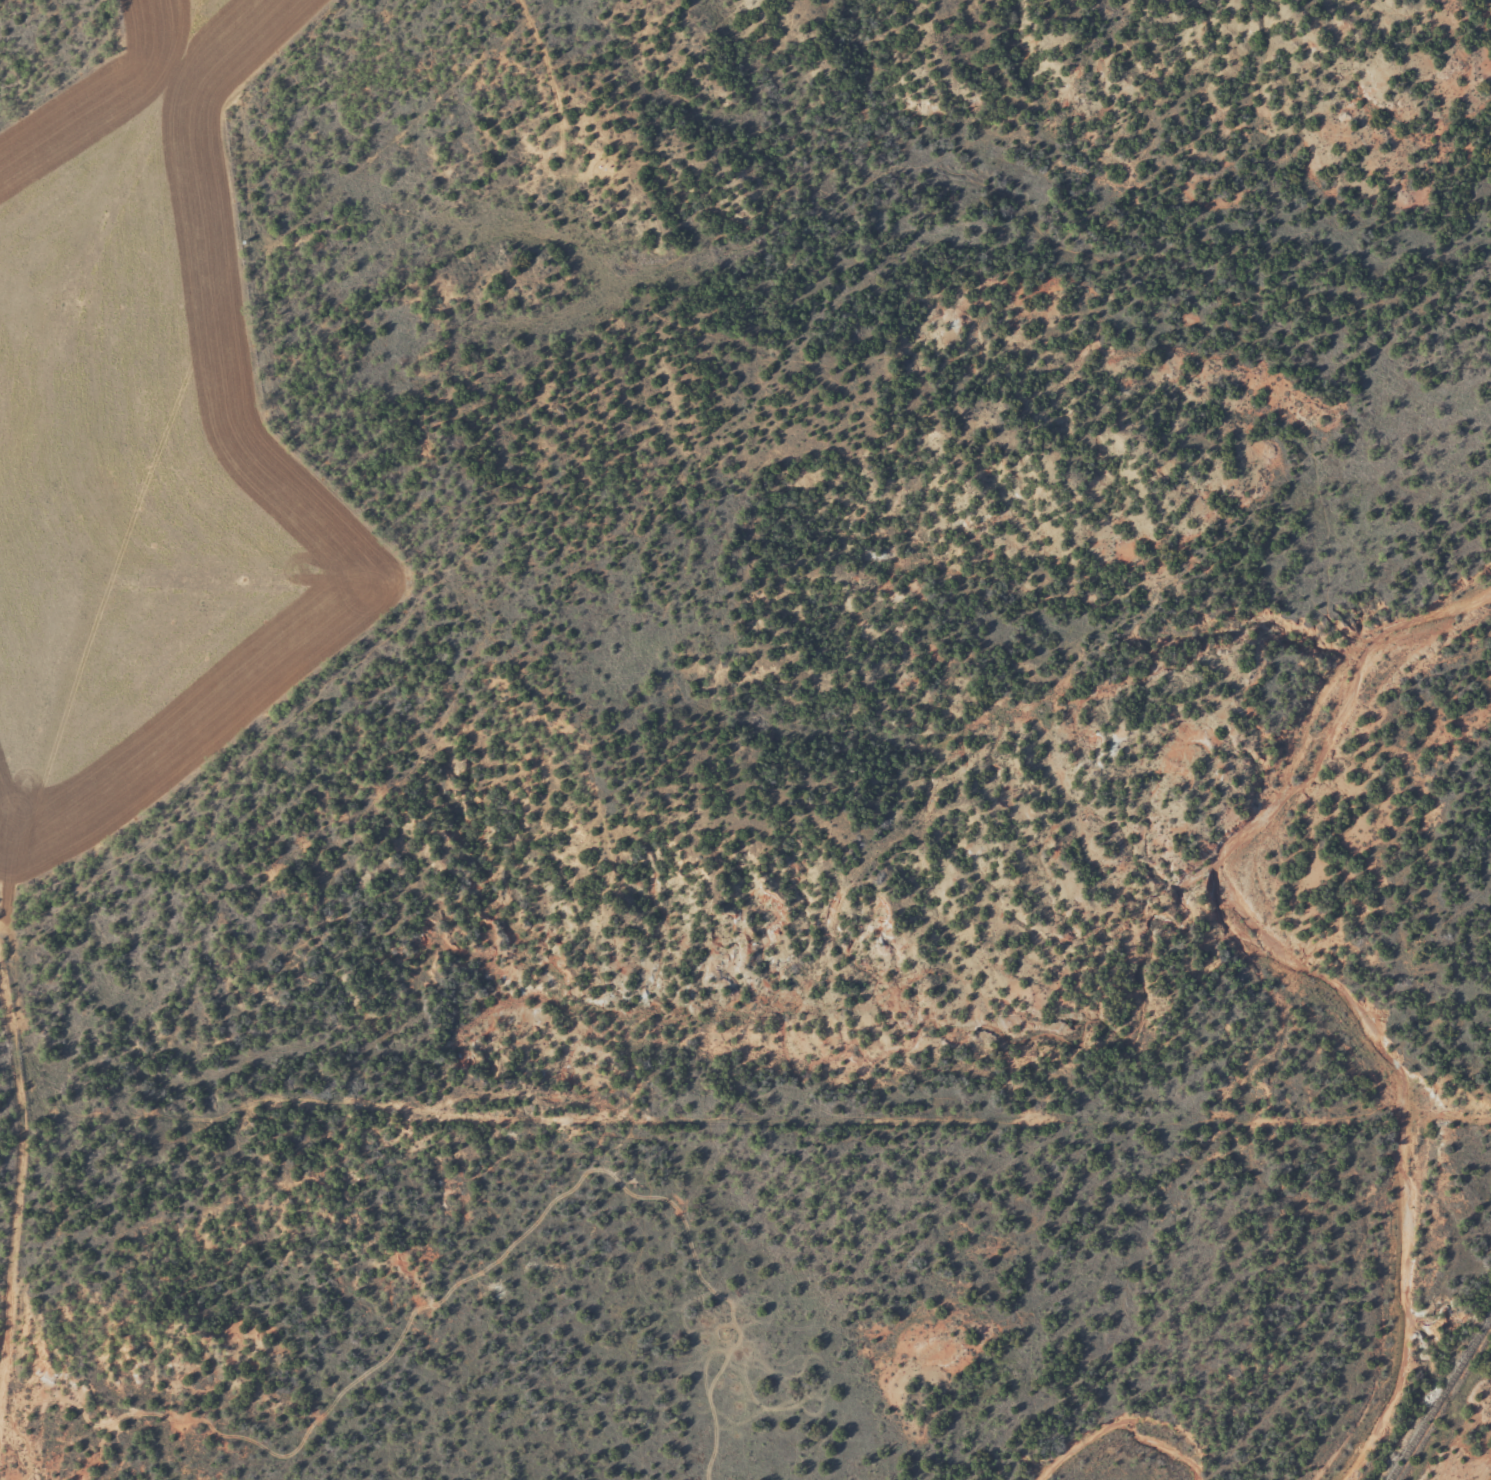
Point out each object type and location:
railway: (1439, 1403)

